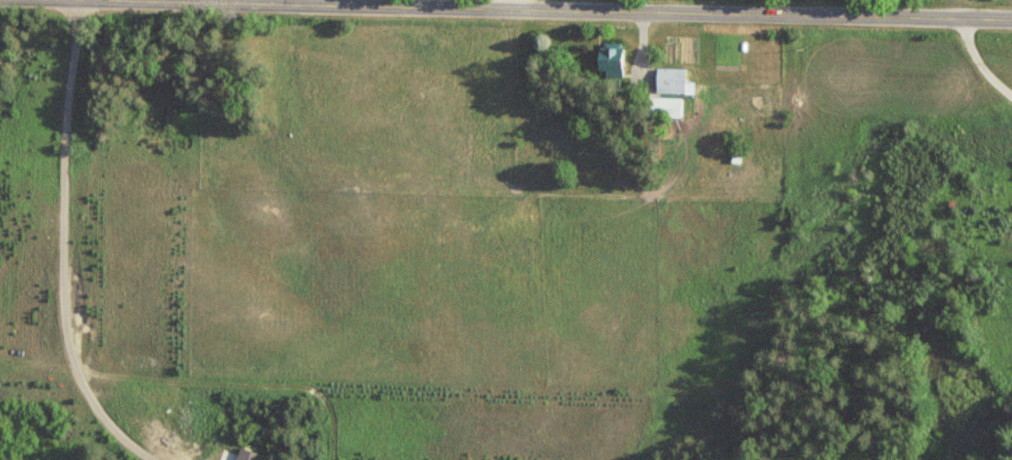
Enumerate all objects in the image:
road: (570, 8)
building: (611, 58)
building: (672, 80)
building: (663, 107)

